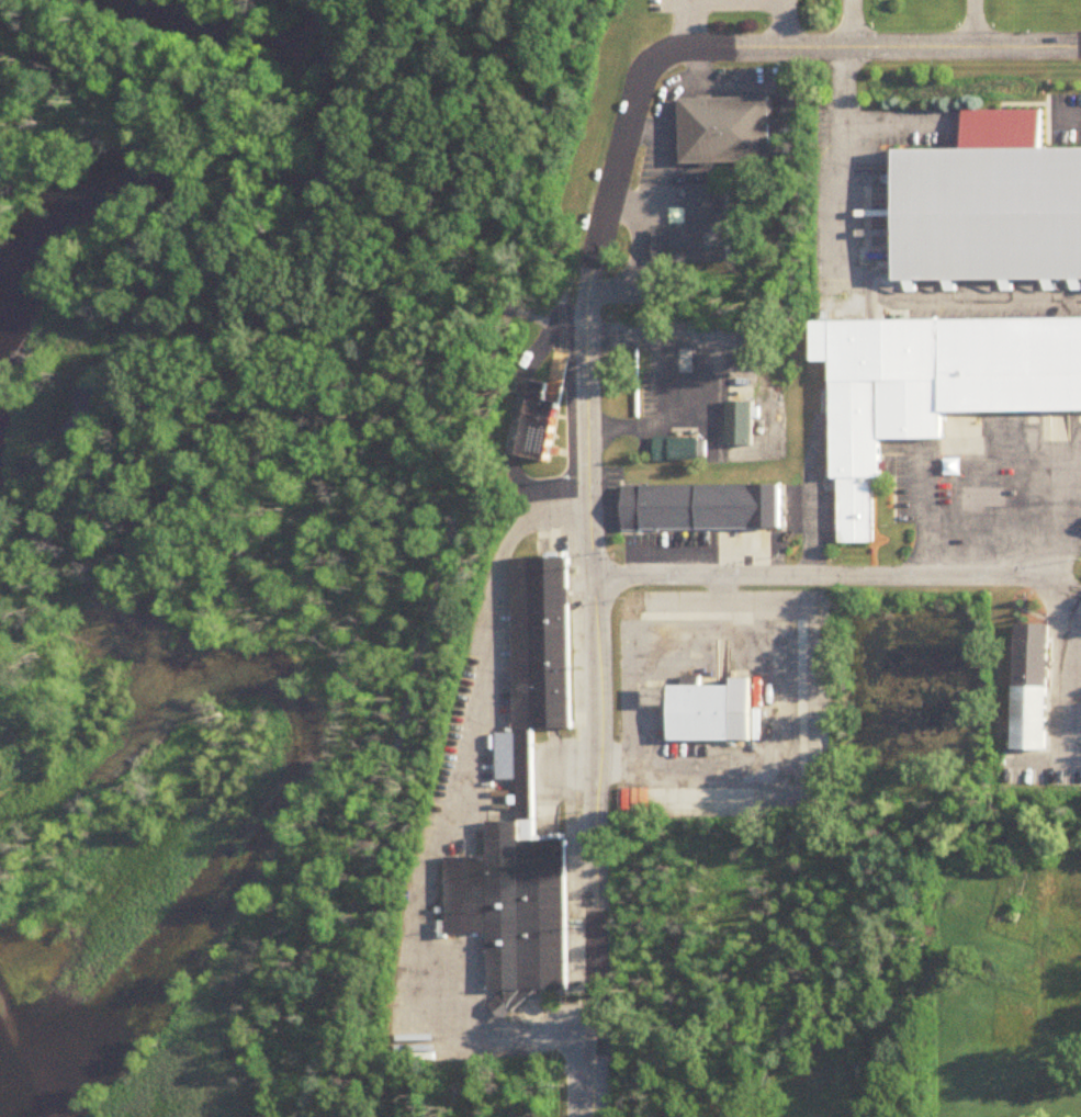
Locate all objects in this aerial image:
road: (776, 22)
road: (841, 22)
road: (689, 24)
road: (1079, 43)
road: (665, 88)
road: (1067, 116)
building: (722, 125)
road: (777, 145)
river: (282, 182)
road: (658, 187)
building: (988, 202)
building: (694, 224)
road: (851, 277)
road: (588, 371)
building: (932, 381)
building: (538, 417)
building: (739, 424)
road: (1038, 447)
building: (676, 450)
road: (988, 452)
road: (943, 458)
road: (1072, 464)
building: (696, 501)
road: (1072, 516)
road: (437, 560)
road: (818, 576)
road: (1061, 583)
road: (1065, 663)
building: (1029, 687)
building: (710, 712)
road: (761, 733)
road: (1073, 757)
river: (293, 779)
building: (519, 796)
road: (447, 820)

